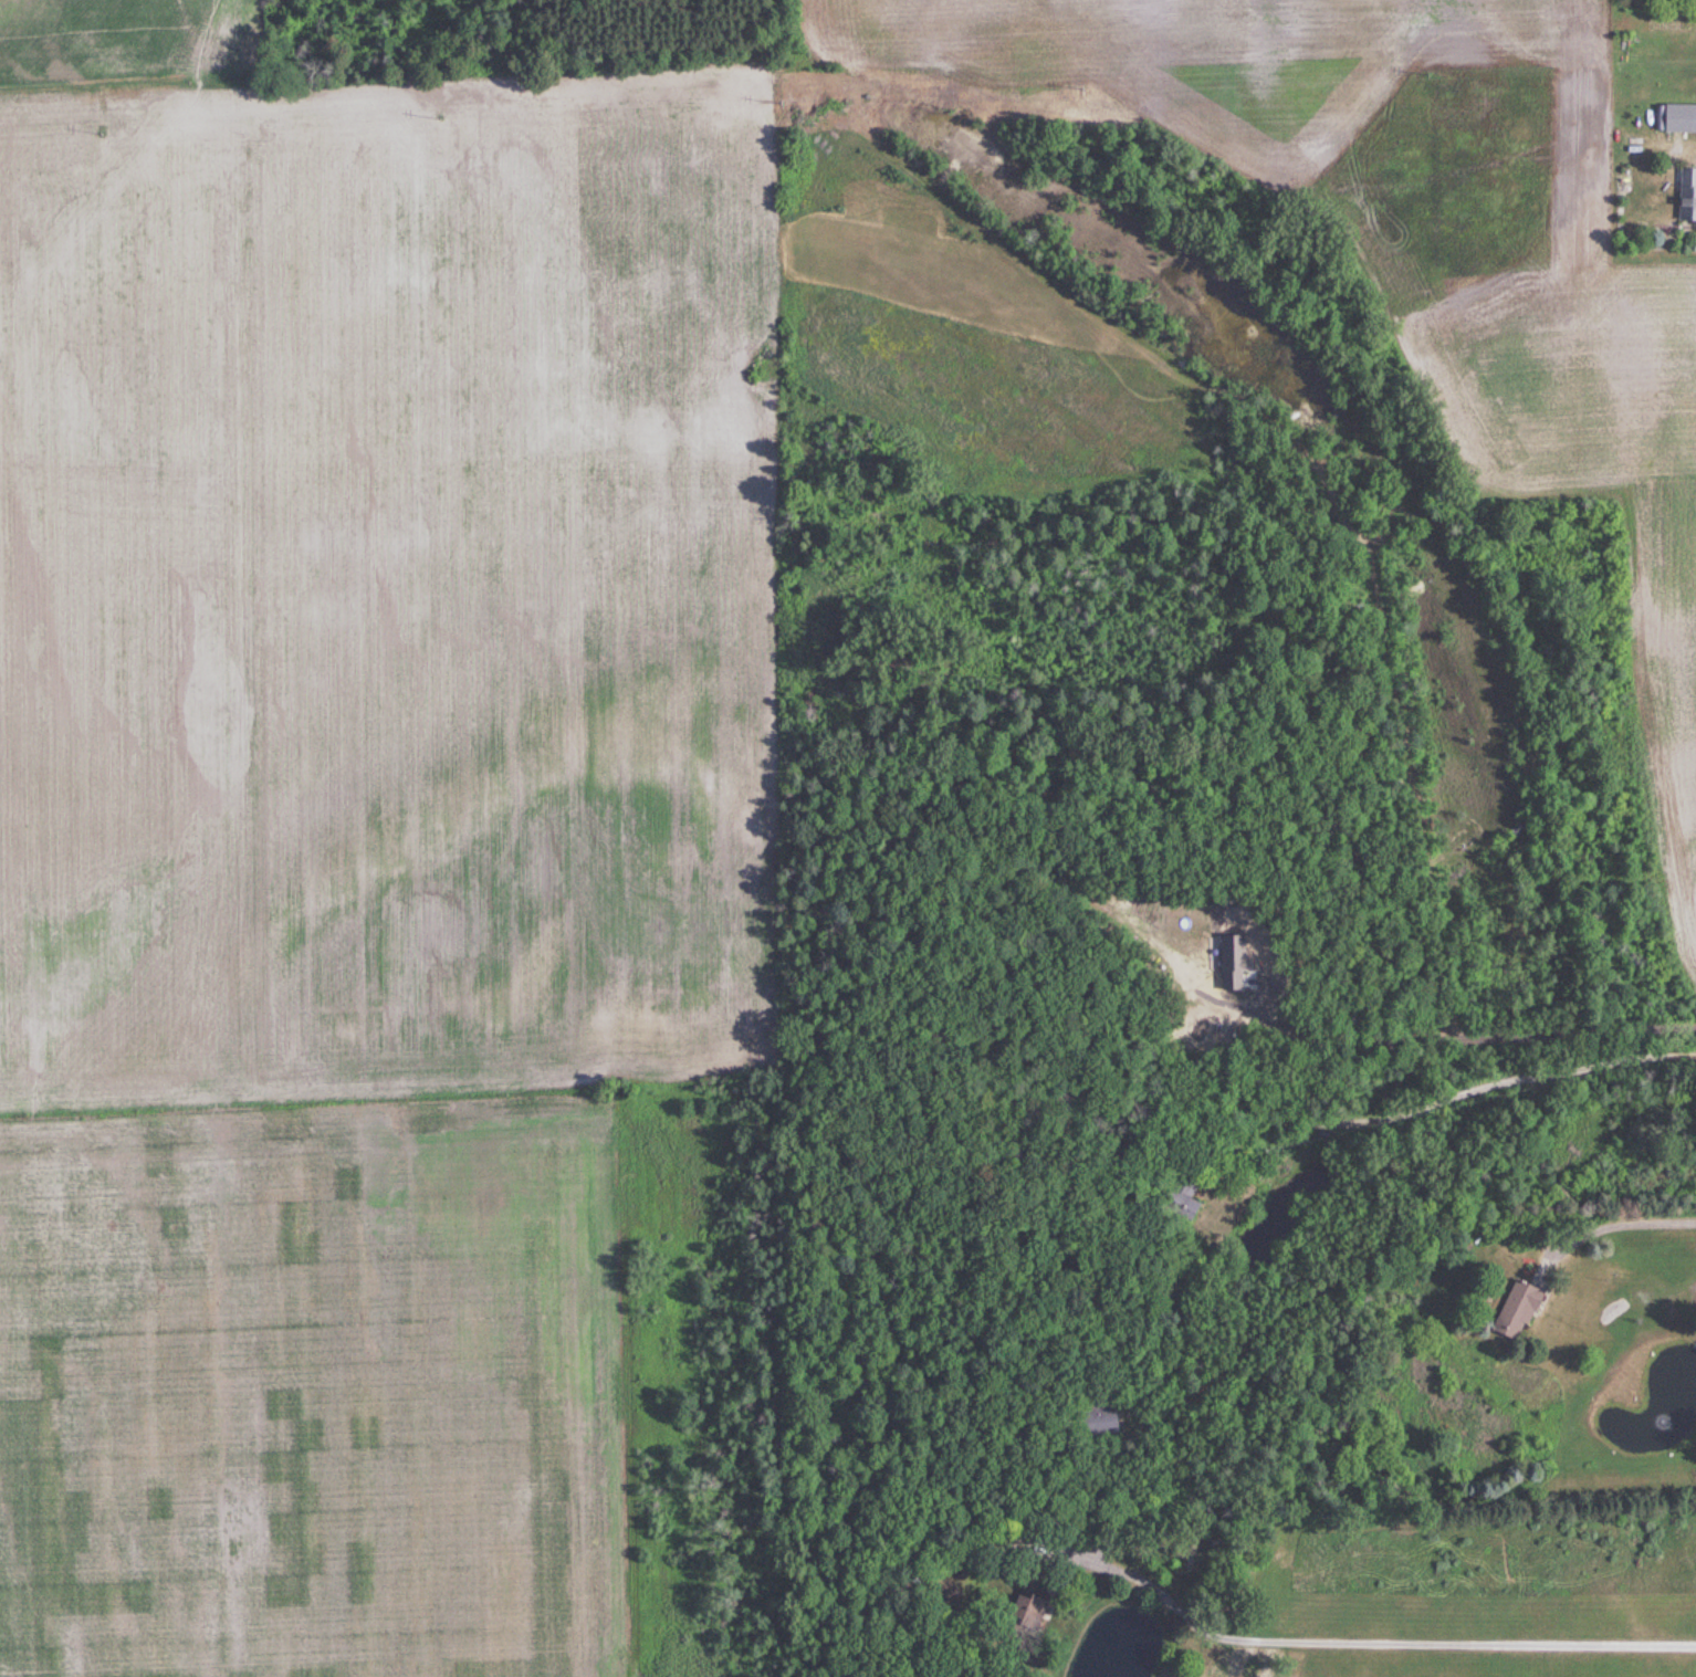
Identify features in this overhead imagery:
building: (1692, 119)
building: (1686, 196)
road: (1465, 1037)
road: (1490, 1082)
building: (1174, 1199)
road: (1613, 1220)
building: (1514, 1310)
building: (1092, 1418)
building: (1024, 1612)

